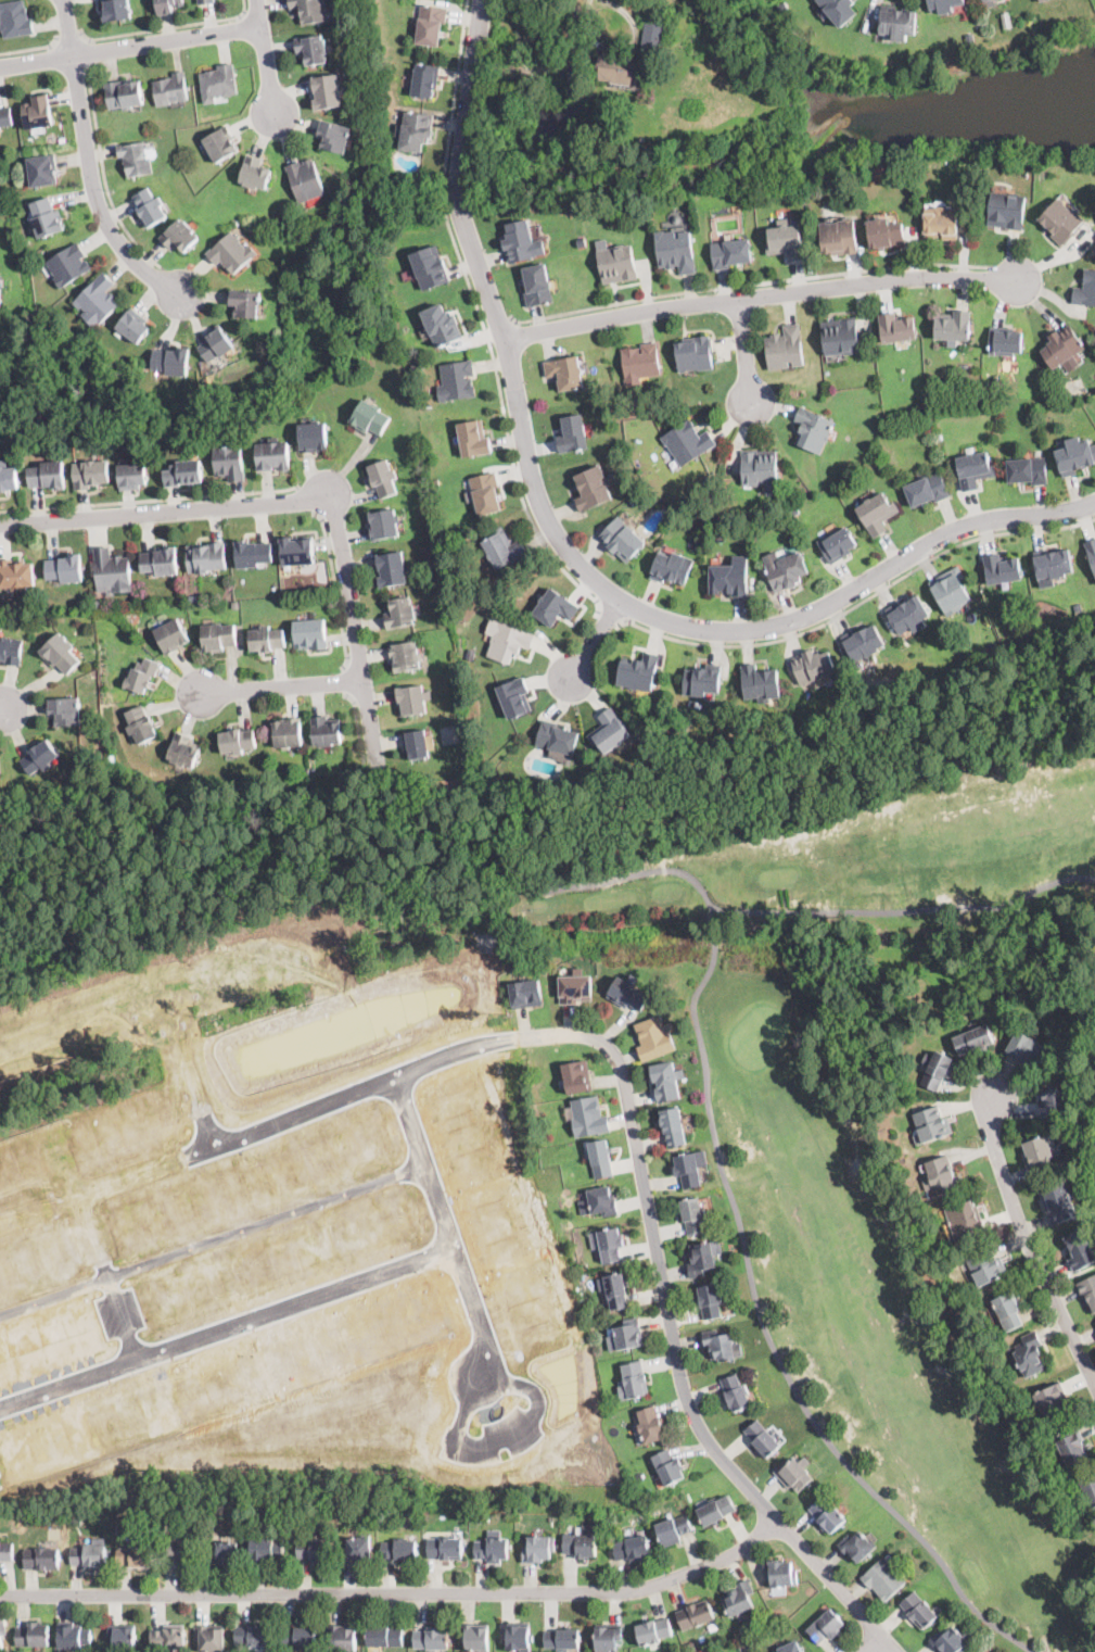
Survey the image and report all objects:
building: (982, 0)
building: (984, 0)
building: (1041, 0)
building: (206, 2)
building: (168, 5)
building: (942, 5)
building: (310, 10)
building: (839, 10)
building: (117, 11)
building: (1006, 18)
building: (16, 20)
building: (897, 23)
building: (432, 25)
road: (71, 28)
road: (166, 28)
road: (68, 39)
building: (653, 39)
road: (621, 42)
road: (130, 48)
building: (509, 49)
road: (31, 50)
building: (313, 50)
road: (92, 51)
road: (266, 59)
building: (619, 68)
building: (538, 70)
building: (425, 80)
building: (219, 83)
building: (173, 89)
building: (328, 91)
building: (125, 94)
building: (39, 112)
building: (5, 117)
building: (415, 130)
building: (333, 137)
building: (220, 144)
building: (137, 157)
building: (42, 171)
building: (256, 174)
road: (104, 175)
building: (306, 179)
road: (97, 193)
building: (150, 207)
building: (1006, 211)
building: (46, 217)
building: (940, 222)
building: (1060, 222)
building: (884, 234)
building: (180, 236)
building: (838, 237)
building: (784, 240)
building: (522, 243)
building: (675, 251)
building: (232, 252)
building: (729, 253)
building: (619, 264)
building: (69, 265)
building: (431, 267)
road: (750, 285)
building: (538, 286)
building: (1085, 290)
building: (0, 295)
road: (760, 298)
building: (98, 300)
building: (244, 303)
road: (482, 319)
road: (500, 325)
building: (135, 326)
building: (442, 326)
building: (953, 326)
building: (895, 328)
building: (840, 337)
building: (1004, 341)
building: (216, 344)
building: (1061, 346)
building: (784, 348)
road: (747, 352)
building: (695, 353)
building: (173, 362)
building: (640, 363)
building: (418, 368)
building: (566, 373)
building: (457, 381)
building: (370, 418)
building: (813, 430)
building: (573, 434)
building: (314, 438)
building: (475, 439)
building: (36, 442)
building: (687, 442)
building: (273, 455)
building: (1073, 456)
building: (230, 462)
building: (757, 468)
building: (973, 469)
building: (1027, 470)
building: (184, 474)
building: (91, 475)
building: (50, 476)
building: (132, 477)
building: (10, 479)
building: (384, 479)
building: (434, 479)
building: (593, 489)
building: (927, 490)
building: (485, 493)
road: (305, 500)
road: (149, 501)
building: (794, 512)
building: (876, 513)
road: (167, 515)
building: (383, 525)
building: (623, 540)
building: (838, 545)
building: (504, 548)
building: (1091, 551)
building: (297, 552)
building: (254, 554)
road: (572, 554)
building: (207, 557)
building: (161, 562)
building: (1053, 565)
building: (672, 567)
building: (65, 569)
building: (392, 569)
building: (785, 569)
building: (1002, 569)
building: (113, 570)
building: (17, 575)
building: (730, 578)
road: (335, 589)
building: (950, 591)
building: (436, 593)
building: (192, 597)
road: (858, 605)
building: (98, 606)
building: (235, 606)
building: (556, 607)
building: (1078, 607)
building: (400, 614)
building: (909, 616)
road: (610, 617)
building: (1017, 631)
building: (310, 634)
building: (171, 635)
road: (357, 635)
building: (219, 638)
building: (1019, 639)
building: (267, 640)
building: (508, 641)
road: (597, 642)
building: (863, 643)
building: (993, 647)
building: (11, 651)
building: (62, 654)
building: (471, 654)
building: (406, 656)
building: (813, 666)
building: (639, 672)
building: (142, 677)
building: (702, 680)
road: (346, 683)
building: (760, 683)
road: (282, 686)
building: (515, 697)
building: (413, 701)
road: (2, 709)
building: (65, 711)
building: (657, 712)
road: (358, 723)
building: (142, 726)
building: (677, 726)
building: (327, 731)
building: (610, 732)
building: (288, 733)
building: (557, 737)
building: (663, 741)
building: (238, 742)
building: (417, 745)
building: (184, 752)
building: (41, 757)
building: (111, 758)
building: (464, 759)
building: (333, 770)
building: (306, 771)
road: (906, 908)
building: (575, 988)
building: (525, 994)
building: (628, 994)
road: (105, 1013)
building: (653, 1038)
building: (972, 1041)
building: (1024, 1048)
road: (622, 1065)
road: (188, 1069)
building: (935, 1069)
building: (578, 1079)
building: (666, 1081)
building: (1053, 1098)
building: (589, 1118)
building: (930, 1125)
building: (673, 1127)
building: (1040, 1155)
building: (601, 1159)
park: (817, 1168)
building: (687, 1170)
building: (941, 1175)
building: (603, 1201)
building: (1059, 1202)
building: (692, 1215)
building: (966, 1220)
road: (447, 1224)
road: (739, 1232)
building: (609, 1244)
road: (1030, 1244)
building: (1080, 1251)
building: (700, 1258)
building: (985, 1266)
building: (614, 1290)
building: (1087, 1292)
building: (710, 1301)
building: (1008, 1310)
road: (225, 1313)
building: (626, 1337)
building: (721, 1346)
building: (1028, 1354)
building: (634, 1382)
building: (735, 1392)
building: (1051, 1399)
building: (651, 1425)
road: (506, 1438)
building: (762, 1439)
building: (1071, 1445)
building: (667, 1467)
building: (794, 1474)
building: (1087, 1488)
building: (715, 1511)
building: (827, 1515)
building: (482, 1518)
building: (77, 1521)
building: (309, 1522)
building: (673, 1529)
building: (581, 1546)
building: (856, 1547)
building: (448, 1548)
building: (633, 1549)
building: (266, 1550)
building: (358, 1550)
building: (495, 1550)
building: (537, 1550)
building: (7, 1551)
building: (315, 1551)
building: (400, 1551)
building: (179, 1552)
building: (221, 1554)
building: (89, 1555)
building: (136, 1558)
building: (42, 1560)
building: (779, 1574)
building: (883, 1579)
road: (397, 1594)
building: (738, 1599)
building: (918, 1610)
building: (695, 1615)
building: (713, 1625)
building: (825, 1627)
building: (654, 1631)
building: (2, 1635)
building: (34, 1636)
building: (74, 1636)
building: (517, 1636)
building: (254, 1637)
building: (300, 1637)
building: (385, 1637)
building: (610, 1637)
building: (123, 1638)
building: (212, 1638)
building: (344, 1638)
building: (169, 1639)
building: (433, 1639)
building: (478, 1639)
building: (563, 1640)
building: (948, 1641)
road: (874, 1643)
building: (690, 1648)
building: (789, 1648)
building: (751, 1651)

